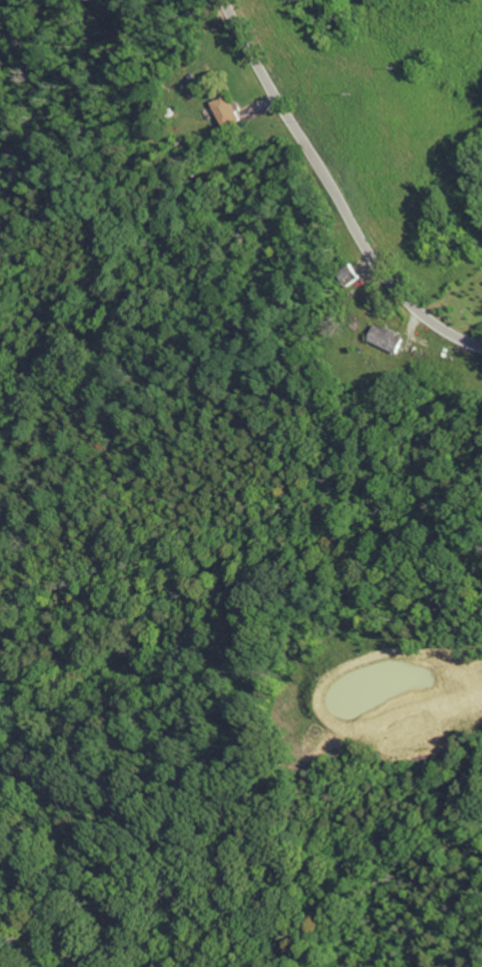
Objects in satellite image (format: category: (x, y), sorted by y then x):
building: (218, 112)
road: (332, 192)
building: (383, 339)

